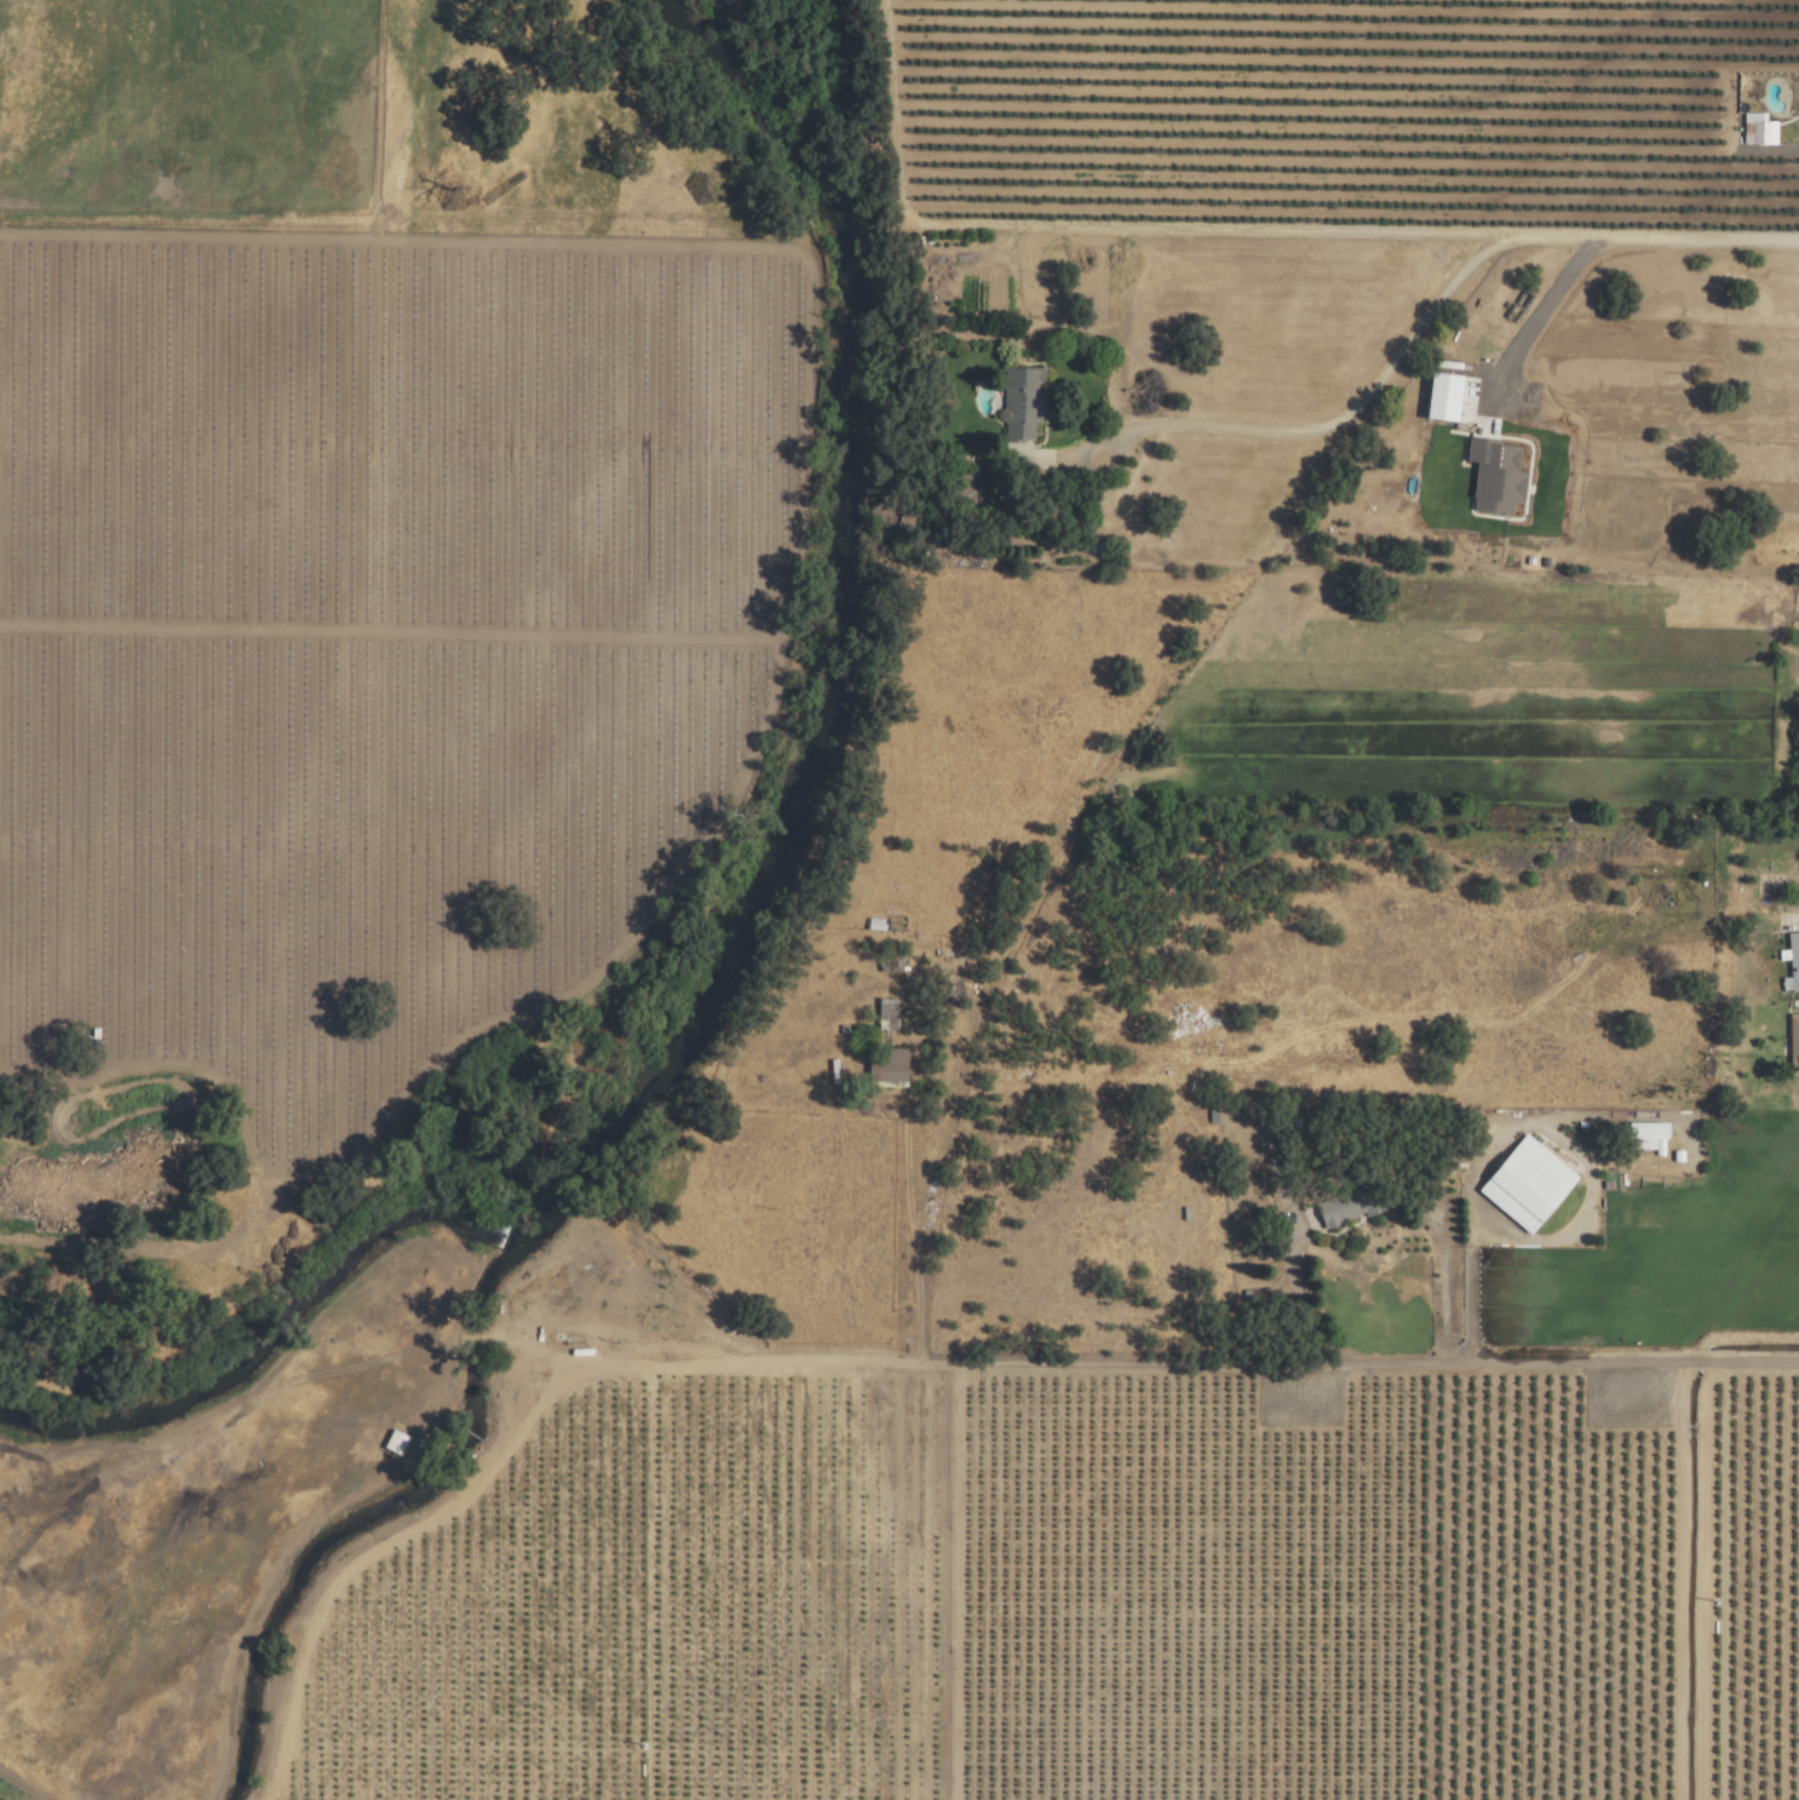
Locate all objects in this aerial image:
building: (1761, 128)
road: (1697, 241)
road: (1540, 317)
road: (1368, 391)
building: (1444, 396)
building: (1023, 403)
building: (1496, 476)
crop: (442, 507)
building: (1791, 964)
crop: (308, 1013)
building: (887, 1013)
building: (1794, 1037)
building: (890, 1066)
building: (1648, 1135)
crop: (209, 1161)
building: (1528, 1185)
building: (1350, 1207)
road: (1468, 1290)
road: (1297, 1299)
crop: (644, 1304)
road: (1544, 1361)
crop: (182, 1523)
crop: (1414, 1580)
crop: (557, 1608)
crop: (839, 1611)

